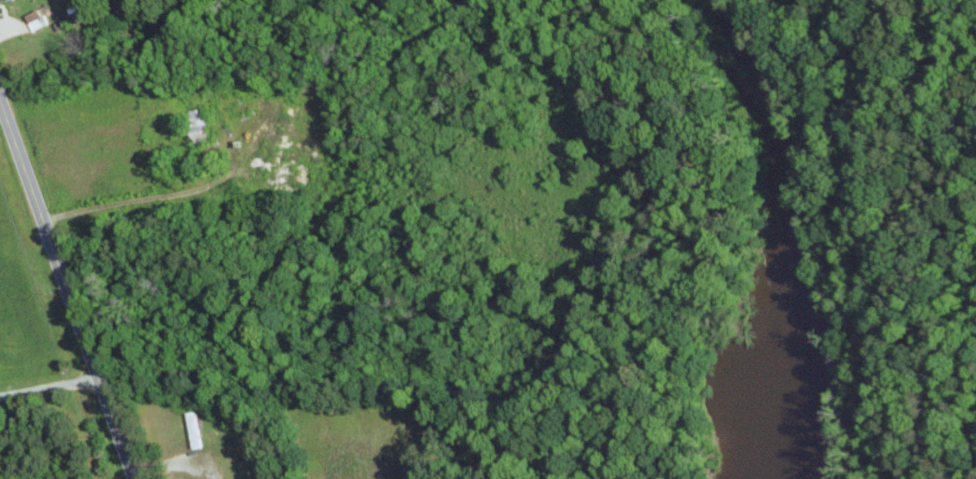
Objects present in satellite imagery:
building: (3, 0)
building: (36, 18)
road: (0, 111)
road: (65, 293)
road: (47, 385)

